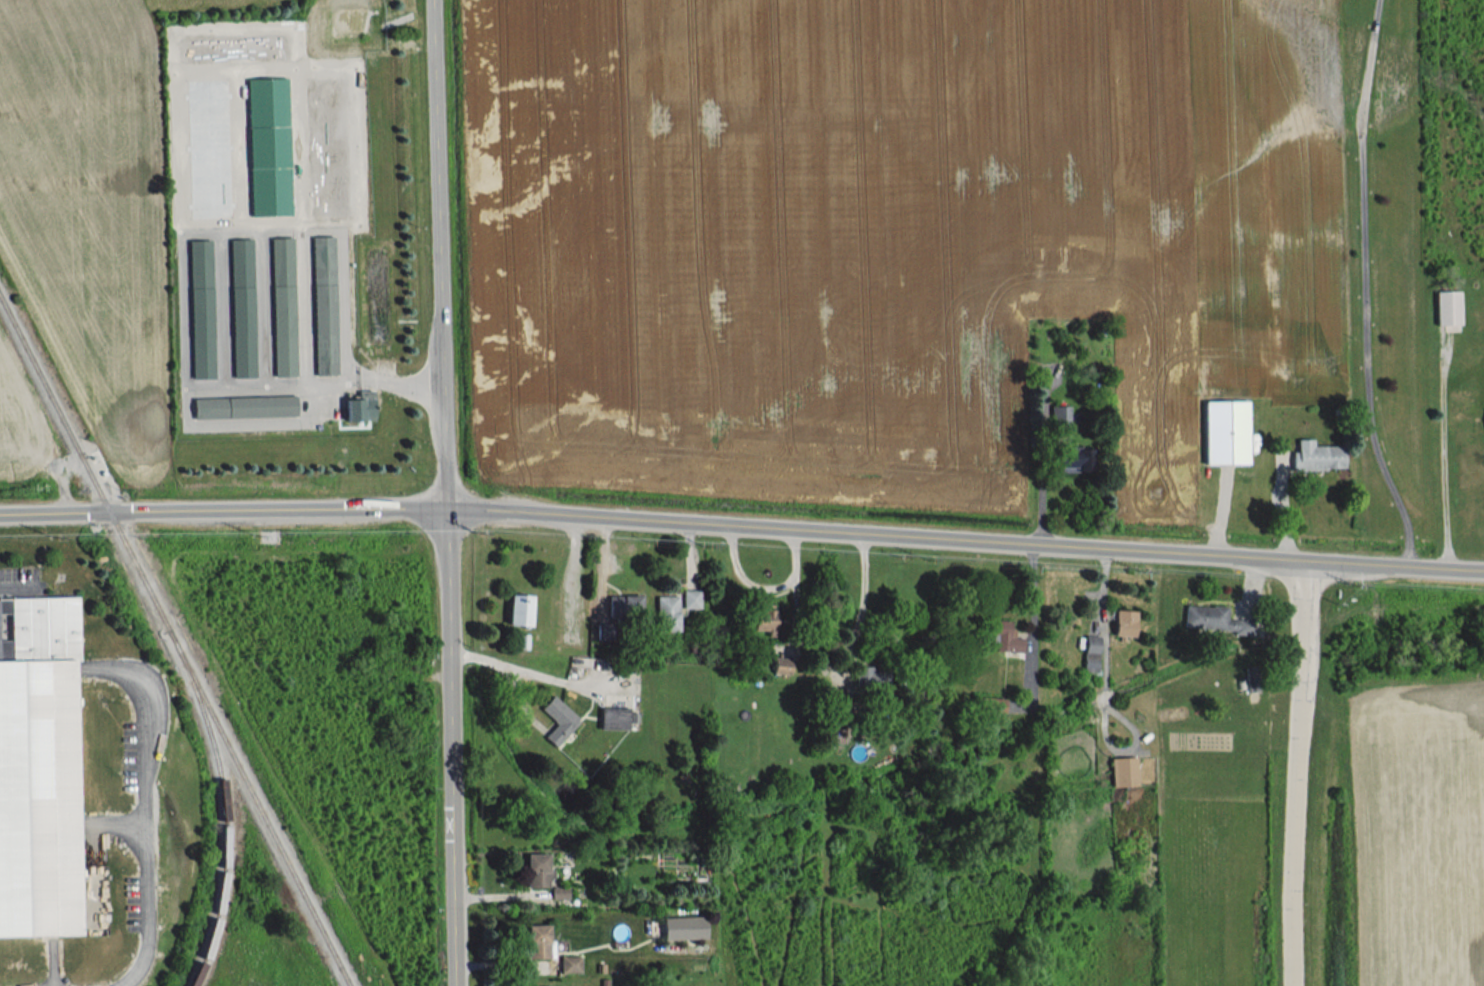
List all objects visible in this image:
building: (268, 146)
road: (1365, 283)
building: (323, 305)
building: (283, 306)
building: (242, 307)
building: (1447, 307)
building: (200, 308)
road: (386, 381)
road: (264, 390)
building: (243, 406)
building: (359, 406)
building: (1059, 416)
building: (1225, 431)
building: (1316, 455)
building: (1072, 458)
road: (1435, 459)
road: (1039, 466)
road: (445, 492)
road: (222, 508)
road: (964, 538)
parking lot: (18, 580)
road: (862, 590)
building: (690, 598)
building: (624, 605)
building: (518, 609)
building: (666, 612)
building: (1214, 619)
building: (765, 621)
building: (1124, 622)
road: (1033, 623)
building: (1005, 636)
railway: (176, 639)
building: (1090, 653)
building: (781, 664)
building: (866, 676)
building: (989, 704)
building: (613, 717)
building: (558, 719)
building: (38, 766)
building: (1122, 771)
road: (1296, 772)
road: (144, 813)
railway: (225, 823)
building: (537, 870)
building: (558, 892)
building: (683, 927)
building: (537, 940)
building: (570, 963)

